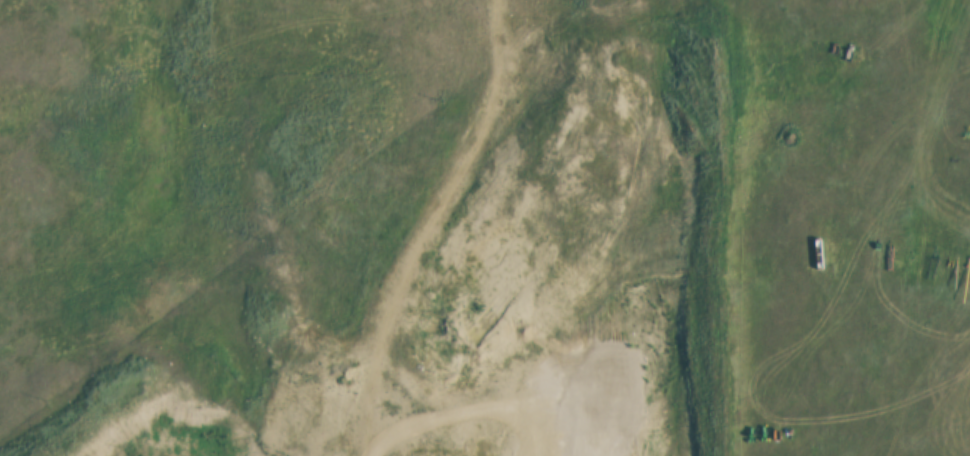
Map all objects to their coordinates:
road: (420, 224)
quarry: (468, 297)

